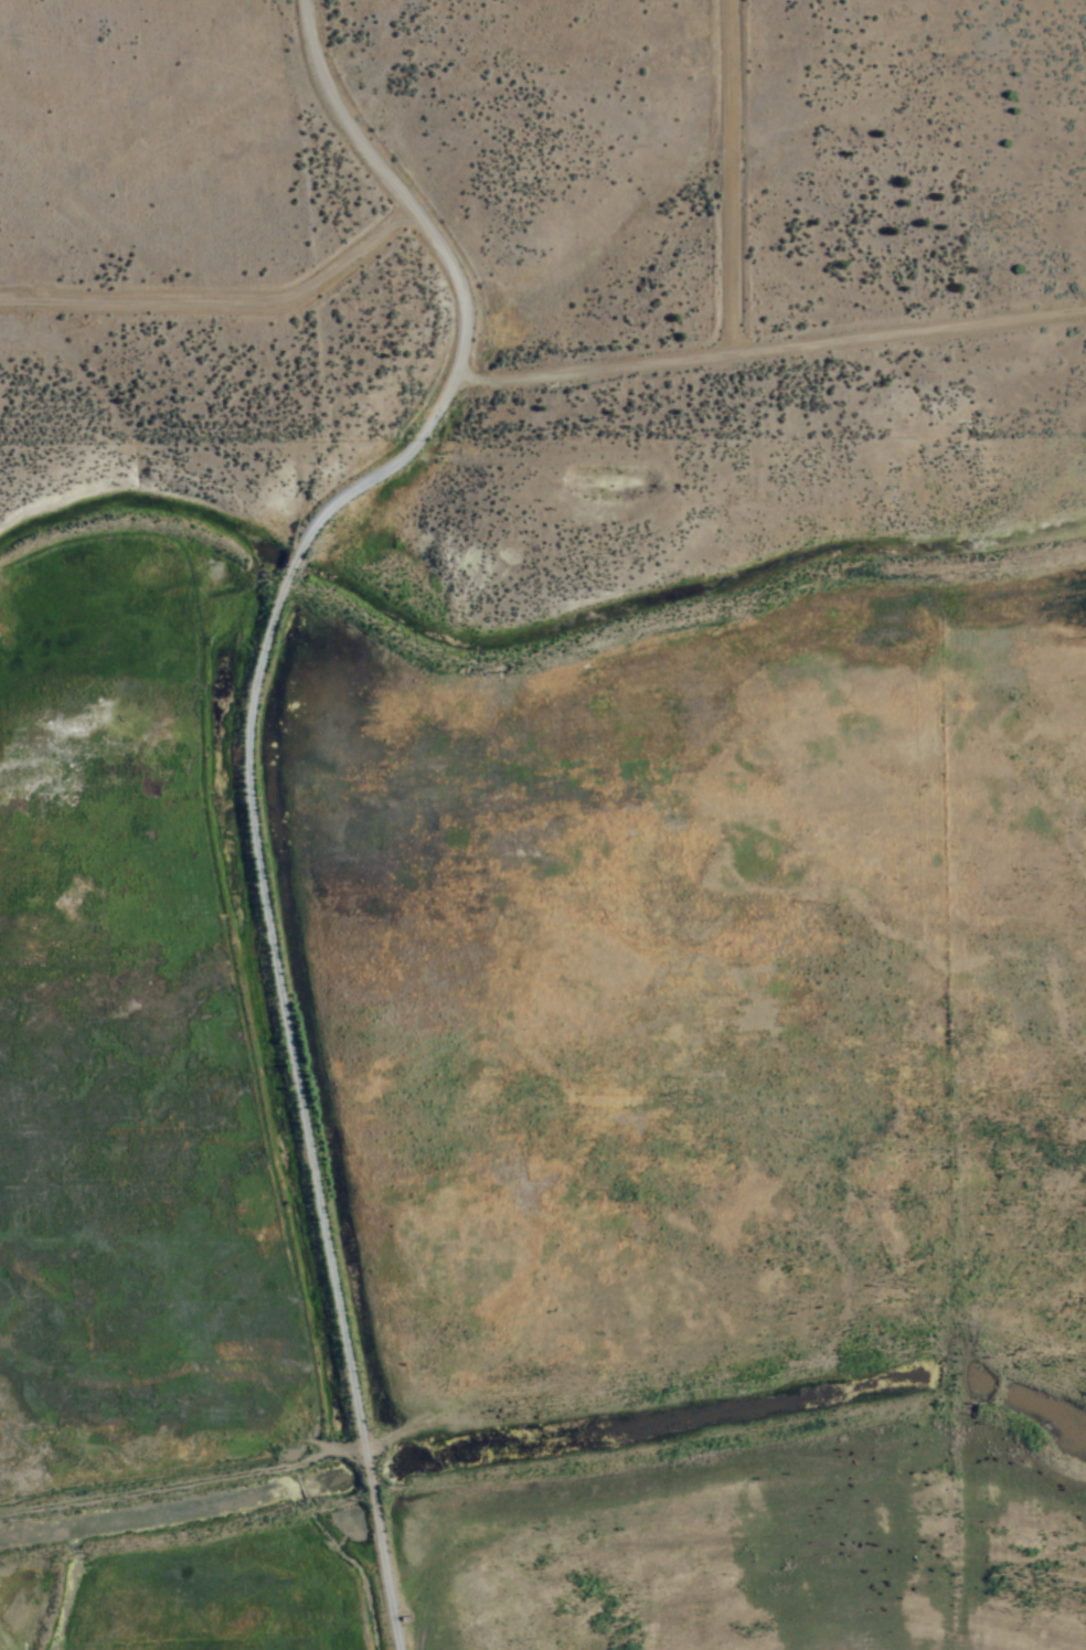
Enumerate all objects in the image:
road: (736, 179)
road: (462, 291)
road: (223, 308)
road: (771, 353)
road: (305, 1103)

